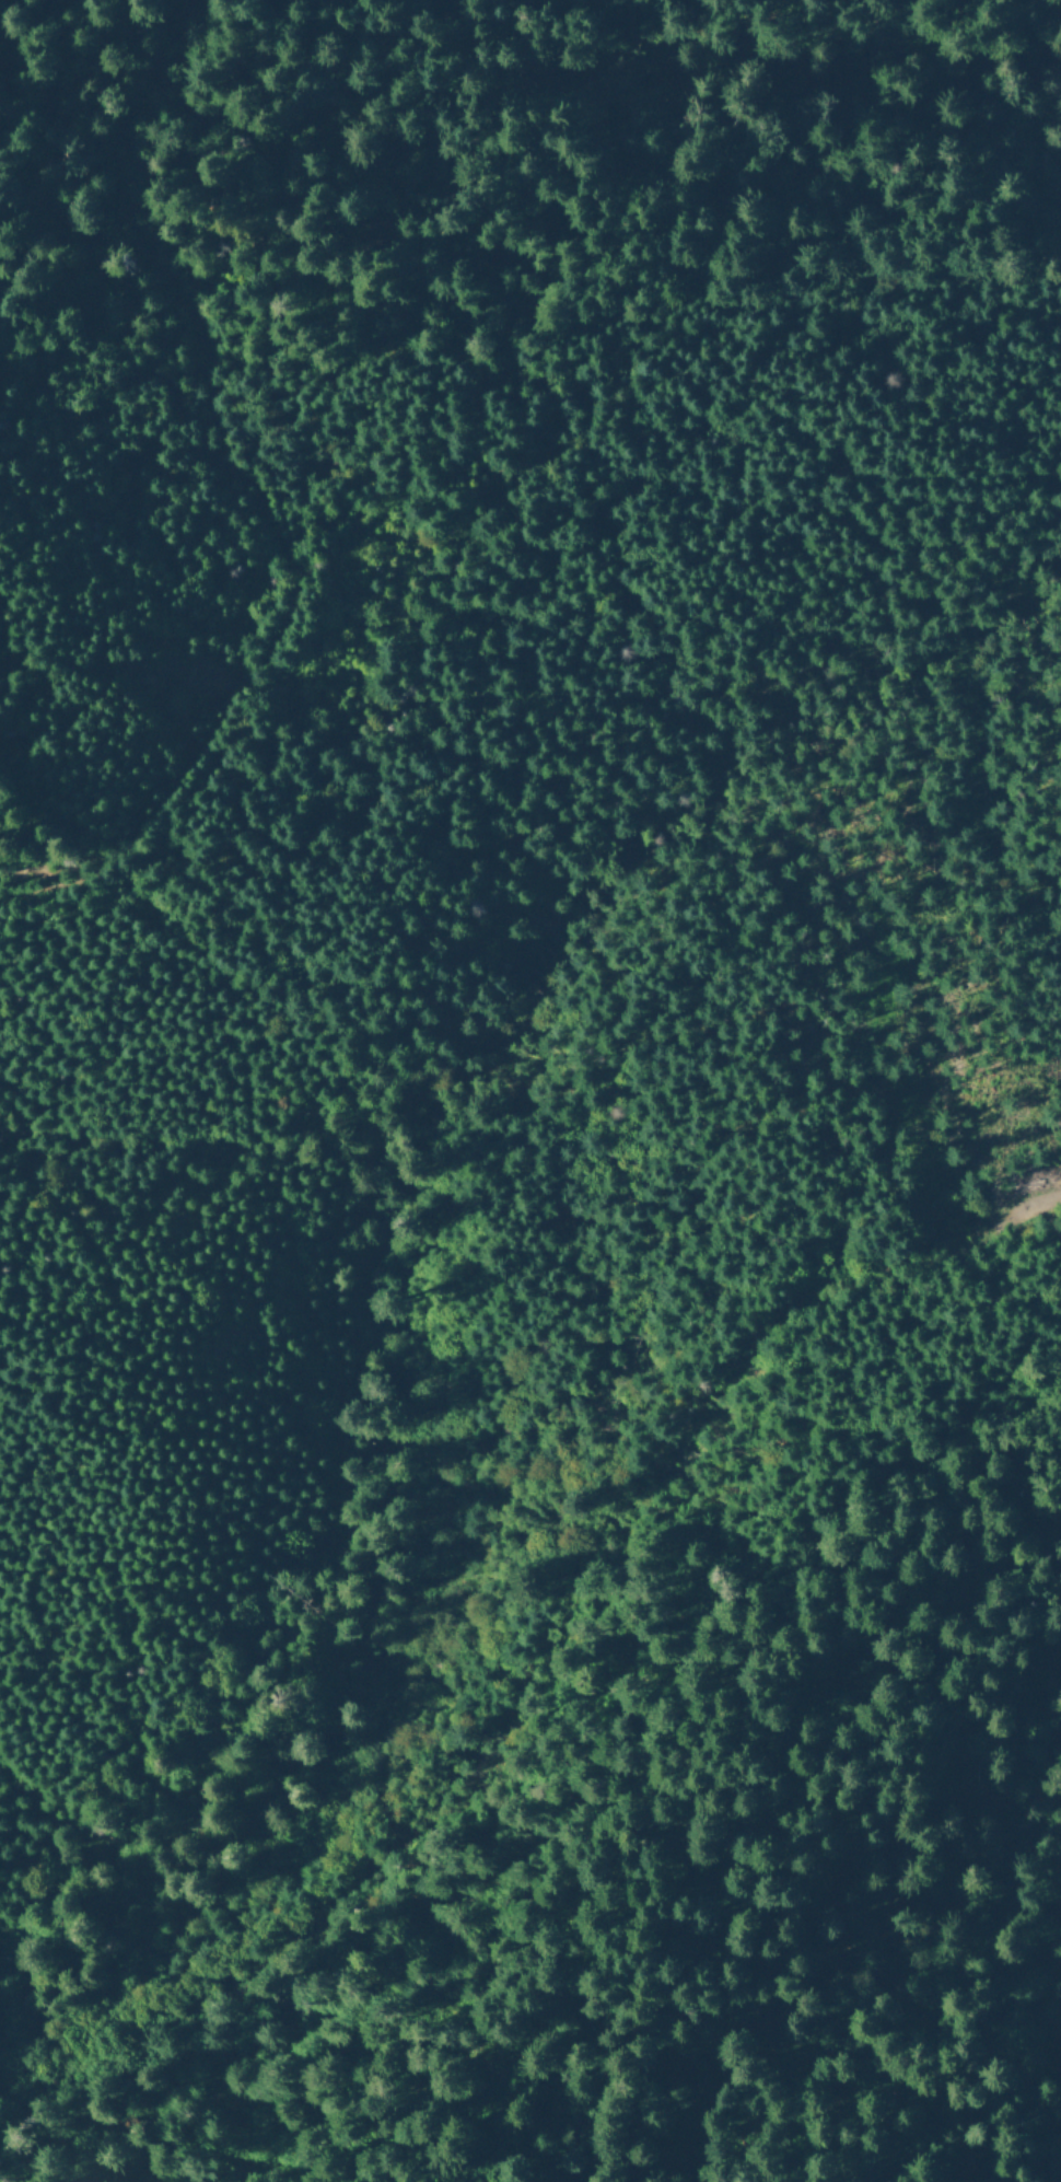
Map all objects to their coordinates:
road: (494, 1556)

